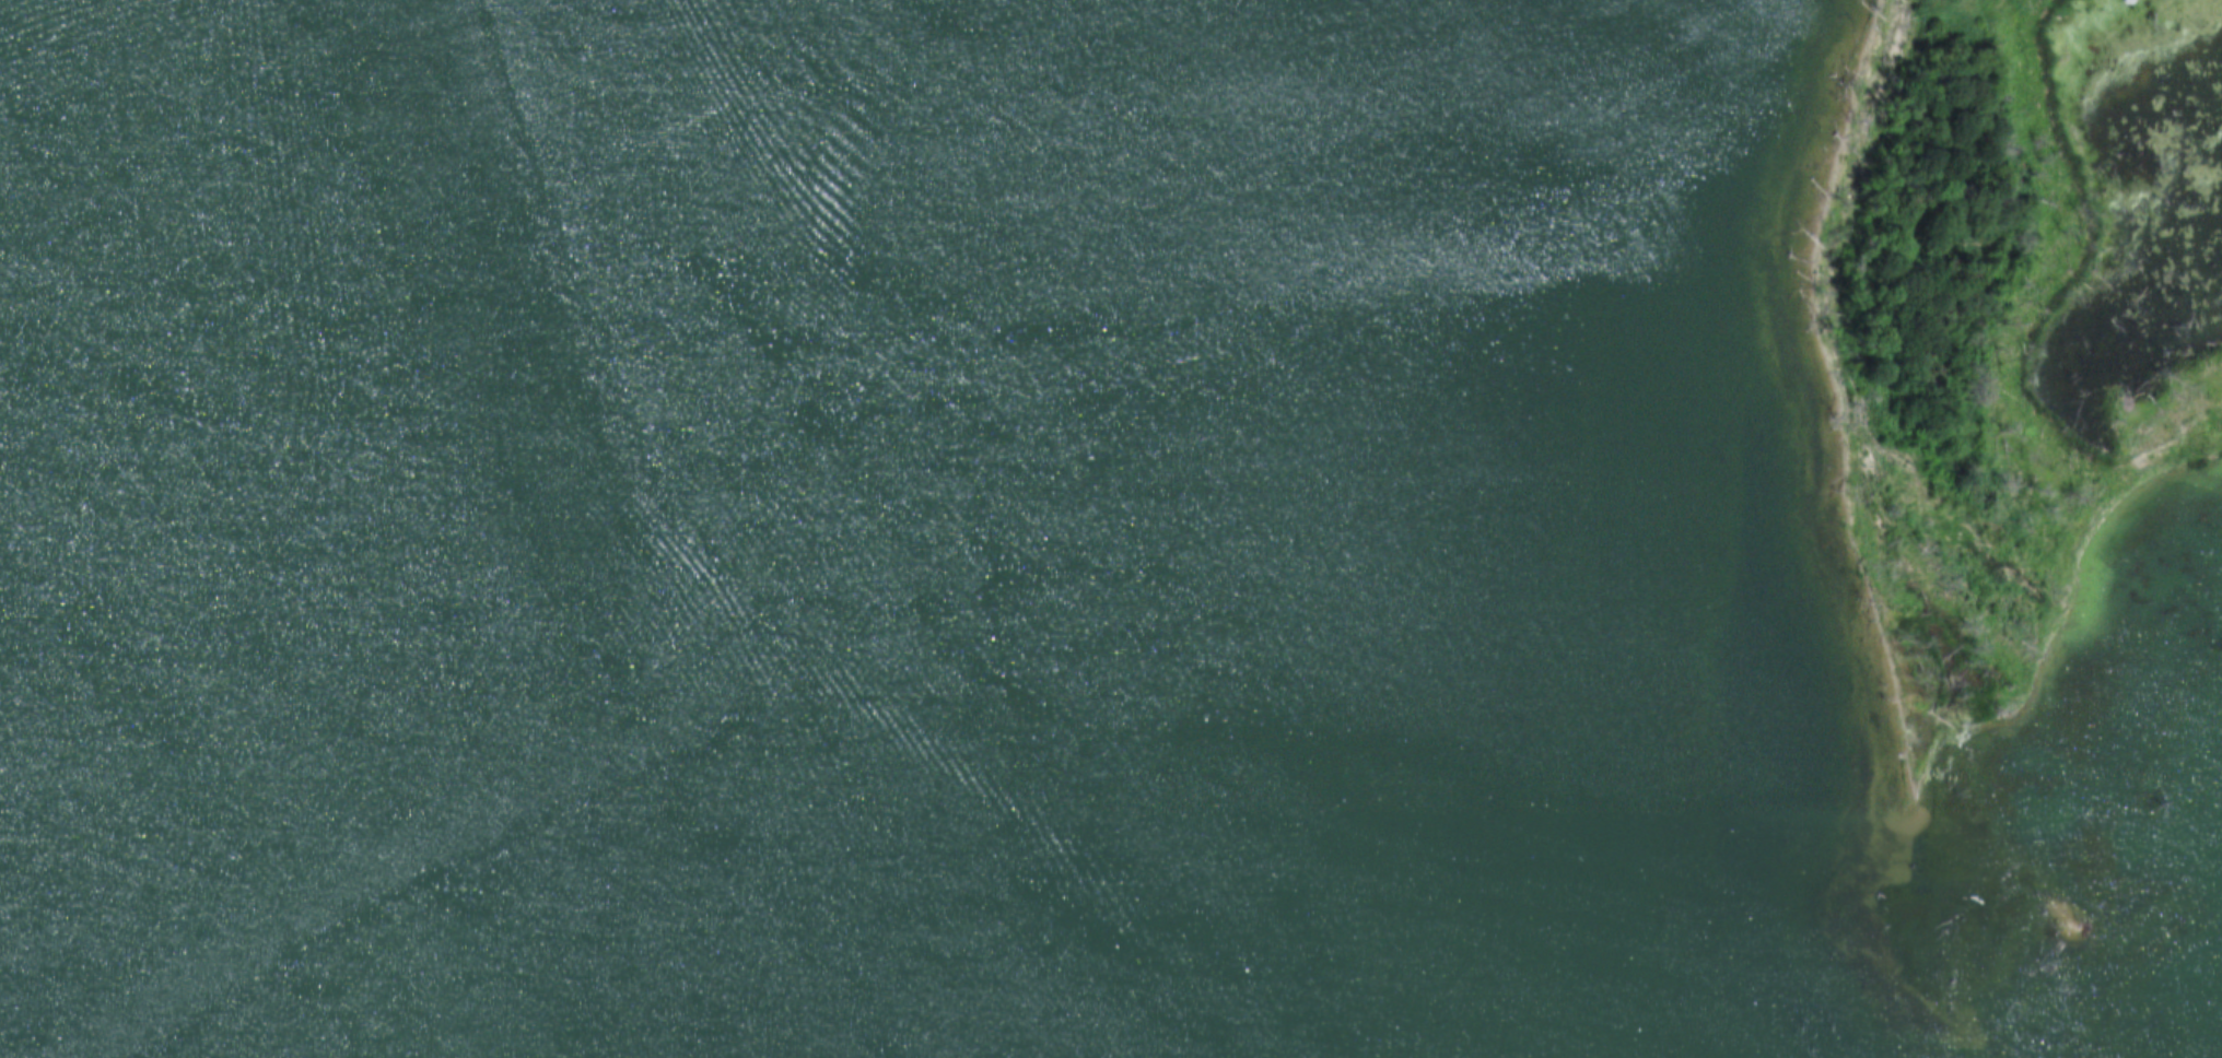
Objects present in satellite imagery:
building: (2119, 0)
silo: (2119, 0)

